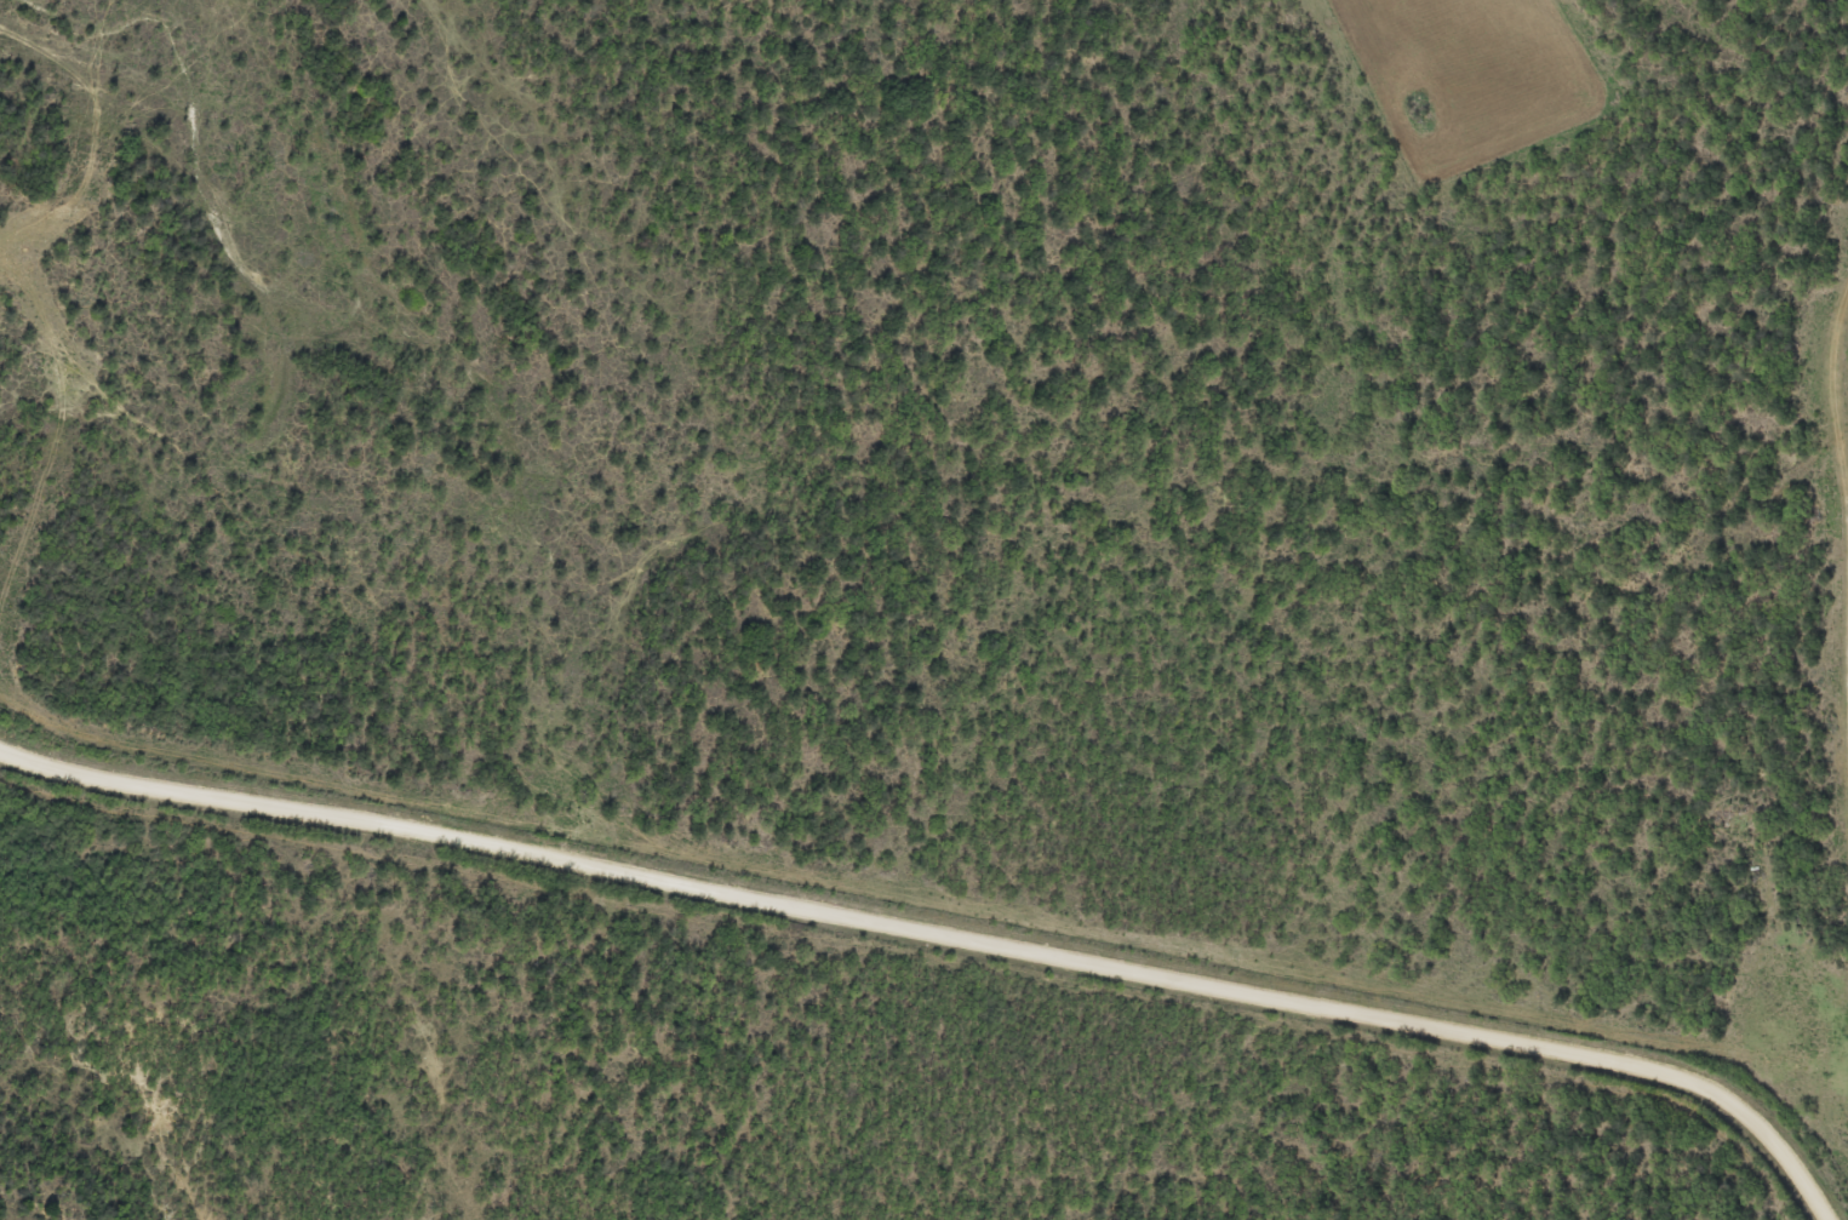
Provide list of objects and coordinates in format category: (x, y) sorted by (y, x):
road: (943, 933)

